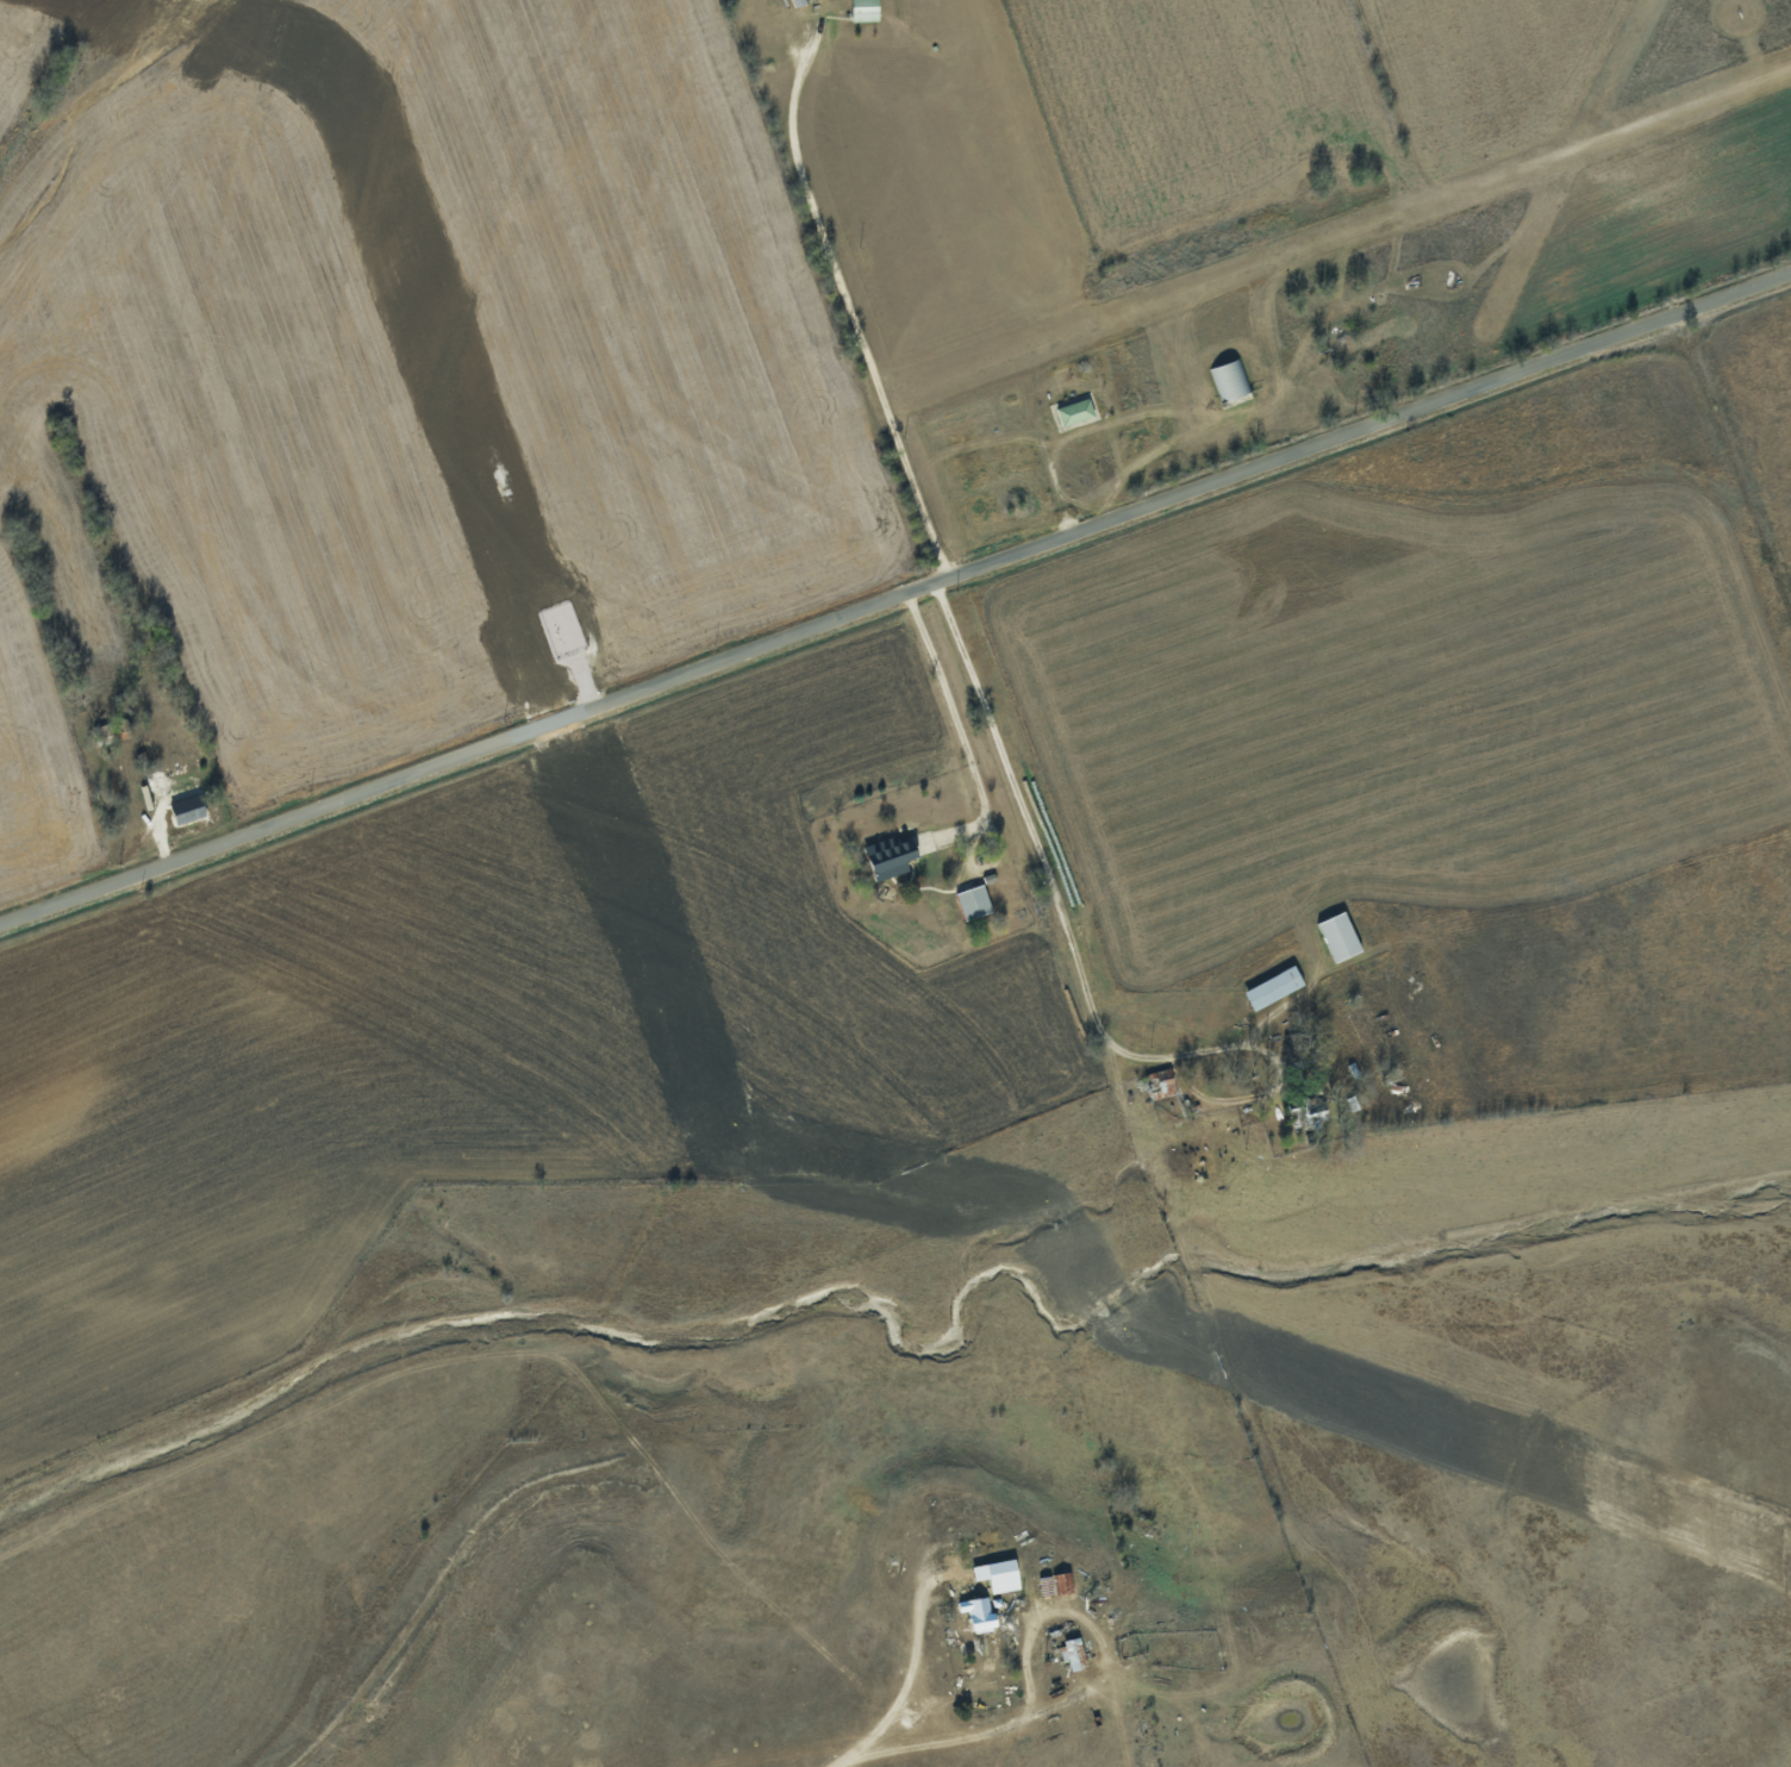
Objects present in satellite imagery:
building: (865, 10)
airport runway: (1574, 170)
airport runway: (1347, 233)
road: (851, 318)
building: (1230, 380)
building: (1075, 411)
road: (894, 598)
road: (953, 718)
building: (187, 810)
road: (1071, 901)
building: (974, 903)
building: (1341, 937)
building: (1274, 988)
building: (999, 1575)
road: (1000, 1723)

